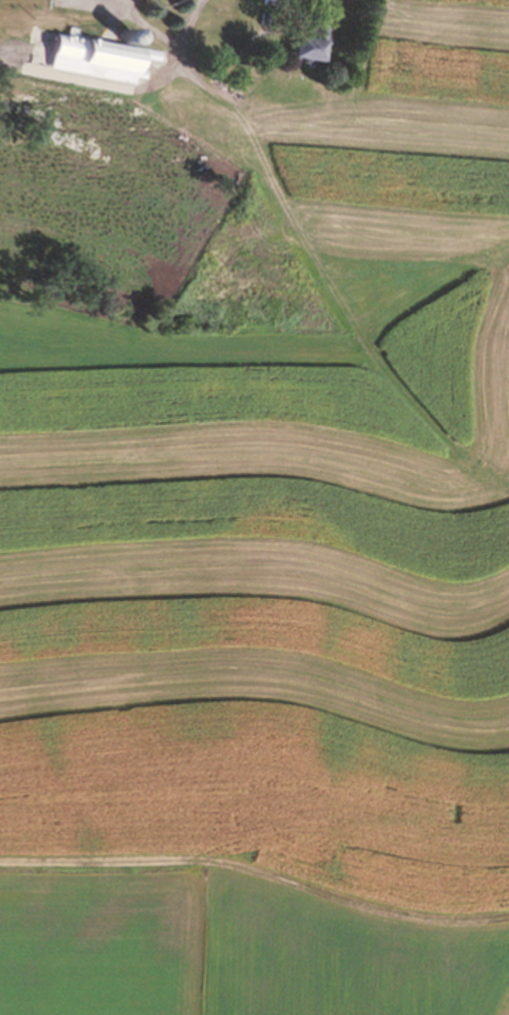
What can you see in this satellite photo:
building: (305, 43)
building: (90, 59)

